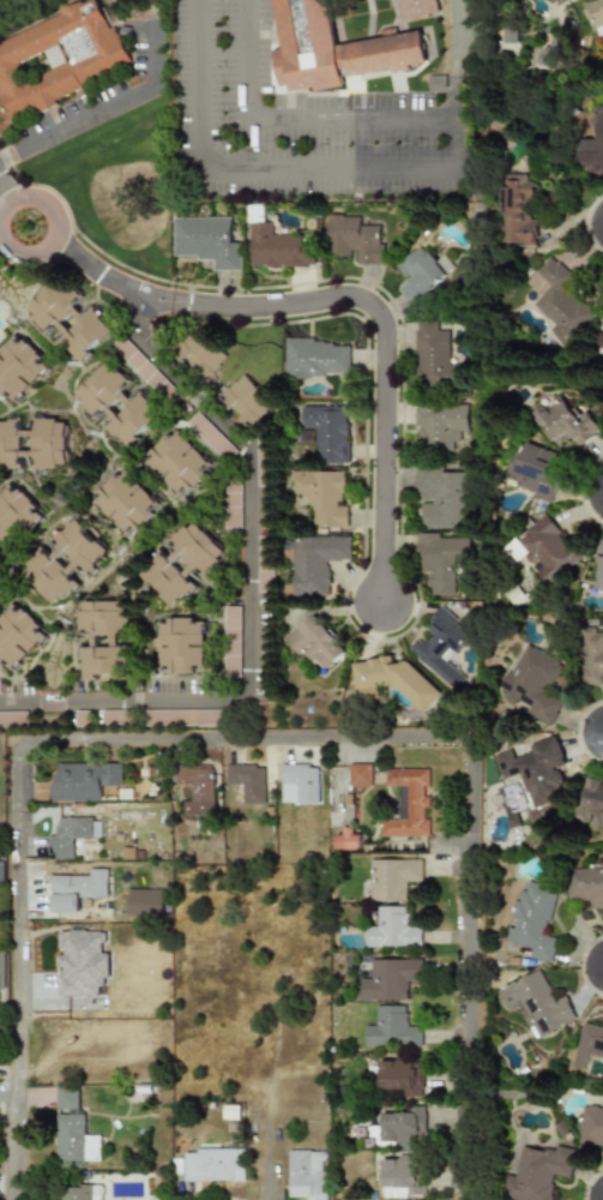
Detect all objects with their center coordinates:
building: (550, 2)
building: (416, 8)
building: (593, 14)
building: (336, 44)
building: (58, 55)
road: (458, 56)
building: (542, 59)
building: (436, 83)
road: (101, 104)
parking lot: (299, 121)
road: (245, 138)
building: (592, 144)
road: (435, 166)
road: (2, 193)
building: (513, 210)
road: (54, 226)
building: (352, 239)
building: (206, 241)
building: (277, 247)
building: (416, 274)
road: (107, 276)
building: (531, 283)
building: (559, 305)
building: (71, 317)
building: (601, 324)
road: (387, 349)
building: (203, 354)
building: (433, 356)
building: (314, 358)
building: (135, 361)
building: (18, 367)
building: (251, 400)
building: (117, 401)
building: (566, 422)
building: (439, 425)
building: (327, 431)
building: (34, 439)
building: (183, 460)
building: (536, 470)
building: (322, 494)
building: (441, 498)
building: (131, 503)
building: (233, 503)
building: (17, 517)
building: (543, 548)
building: (440, 559)
building: (64, 560)
building: (316, 562)
building: (185, 563)
road: (252, 569)
building: (598, 570)
building: (2, 587)
building: (17, 635)
building: (109, 638)
building: (233, 642)
building: (316, 642)
building: (186, 644)
building: (441, 646)
building: (591, 655)
building: (396, 679)
building: (533, 683)
road: (25, 701)
building: (13, 719)
road: (251, 743)
building: (537, 770)
building: (361, 775)
building: (84, 780)
building: (248, 781)
building: (301, 785)
building: (197, 790)
building: (410, 802)
building: (591, 803)
building: (71, 834)
building: (348, 840)
building: (1, 857)
building: (392, 878)
building: (586, 886)
building: (76, 889)
building: (533, 920)
building: (392, 929)
building: (82, 964)
road: (472, 971)
building: (1, 972)
road: (22, 972)
building: (390, 979)
building: (536, 1003)
building: (392, 1028)
building: (586, 1044)
building: (402, 1074)
building: (66, 1098)
building: (403, 1126)
building: (590, 1126)
building: (73, 1140)
building: (213, 1165)
building: (306, 1174)
building: (535, 1174)
building: (400, 1176)
building: (72, 1192)

